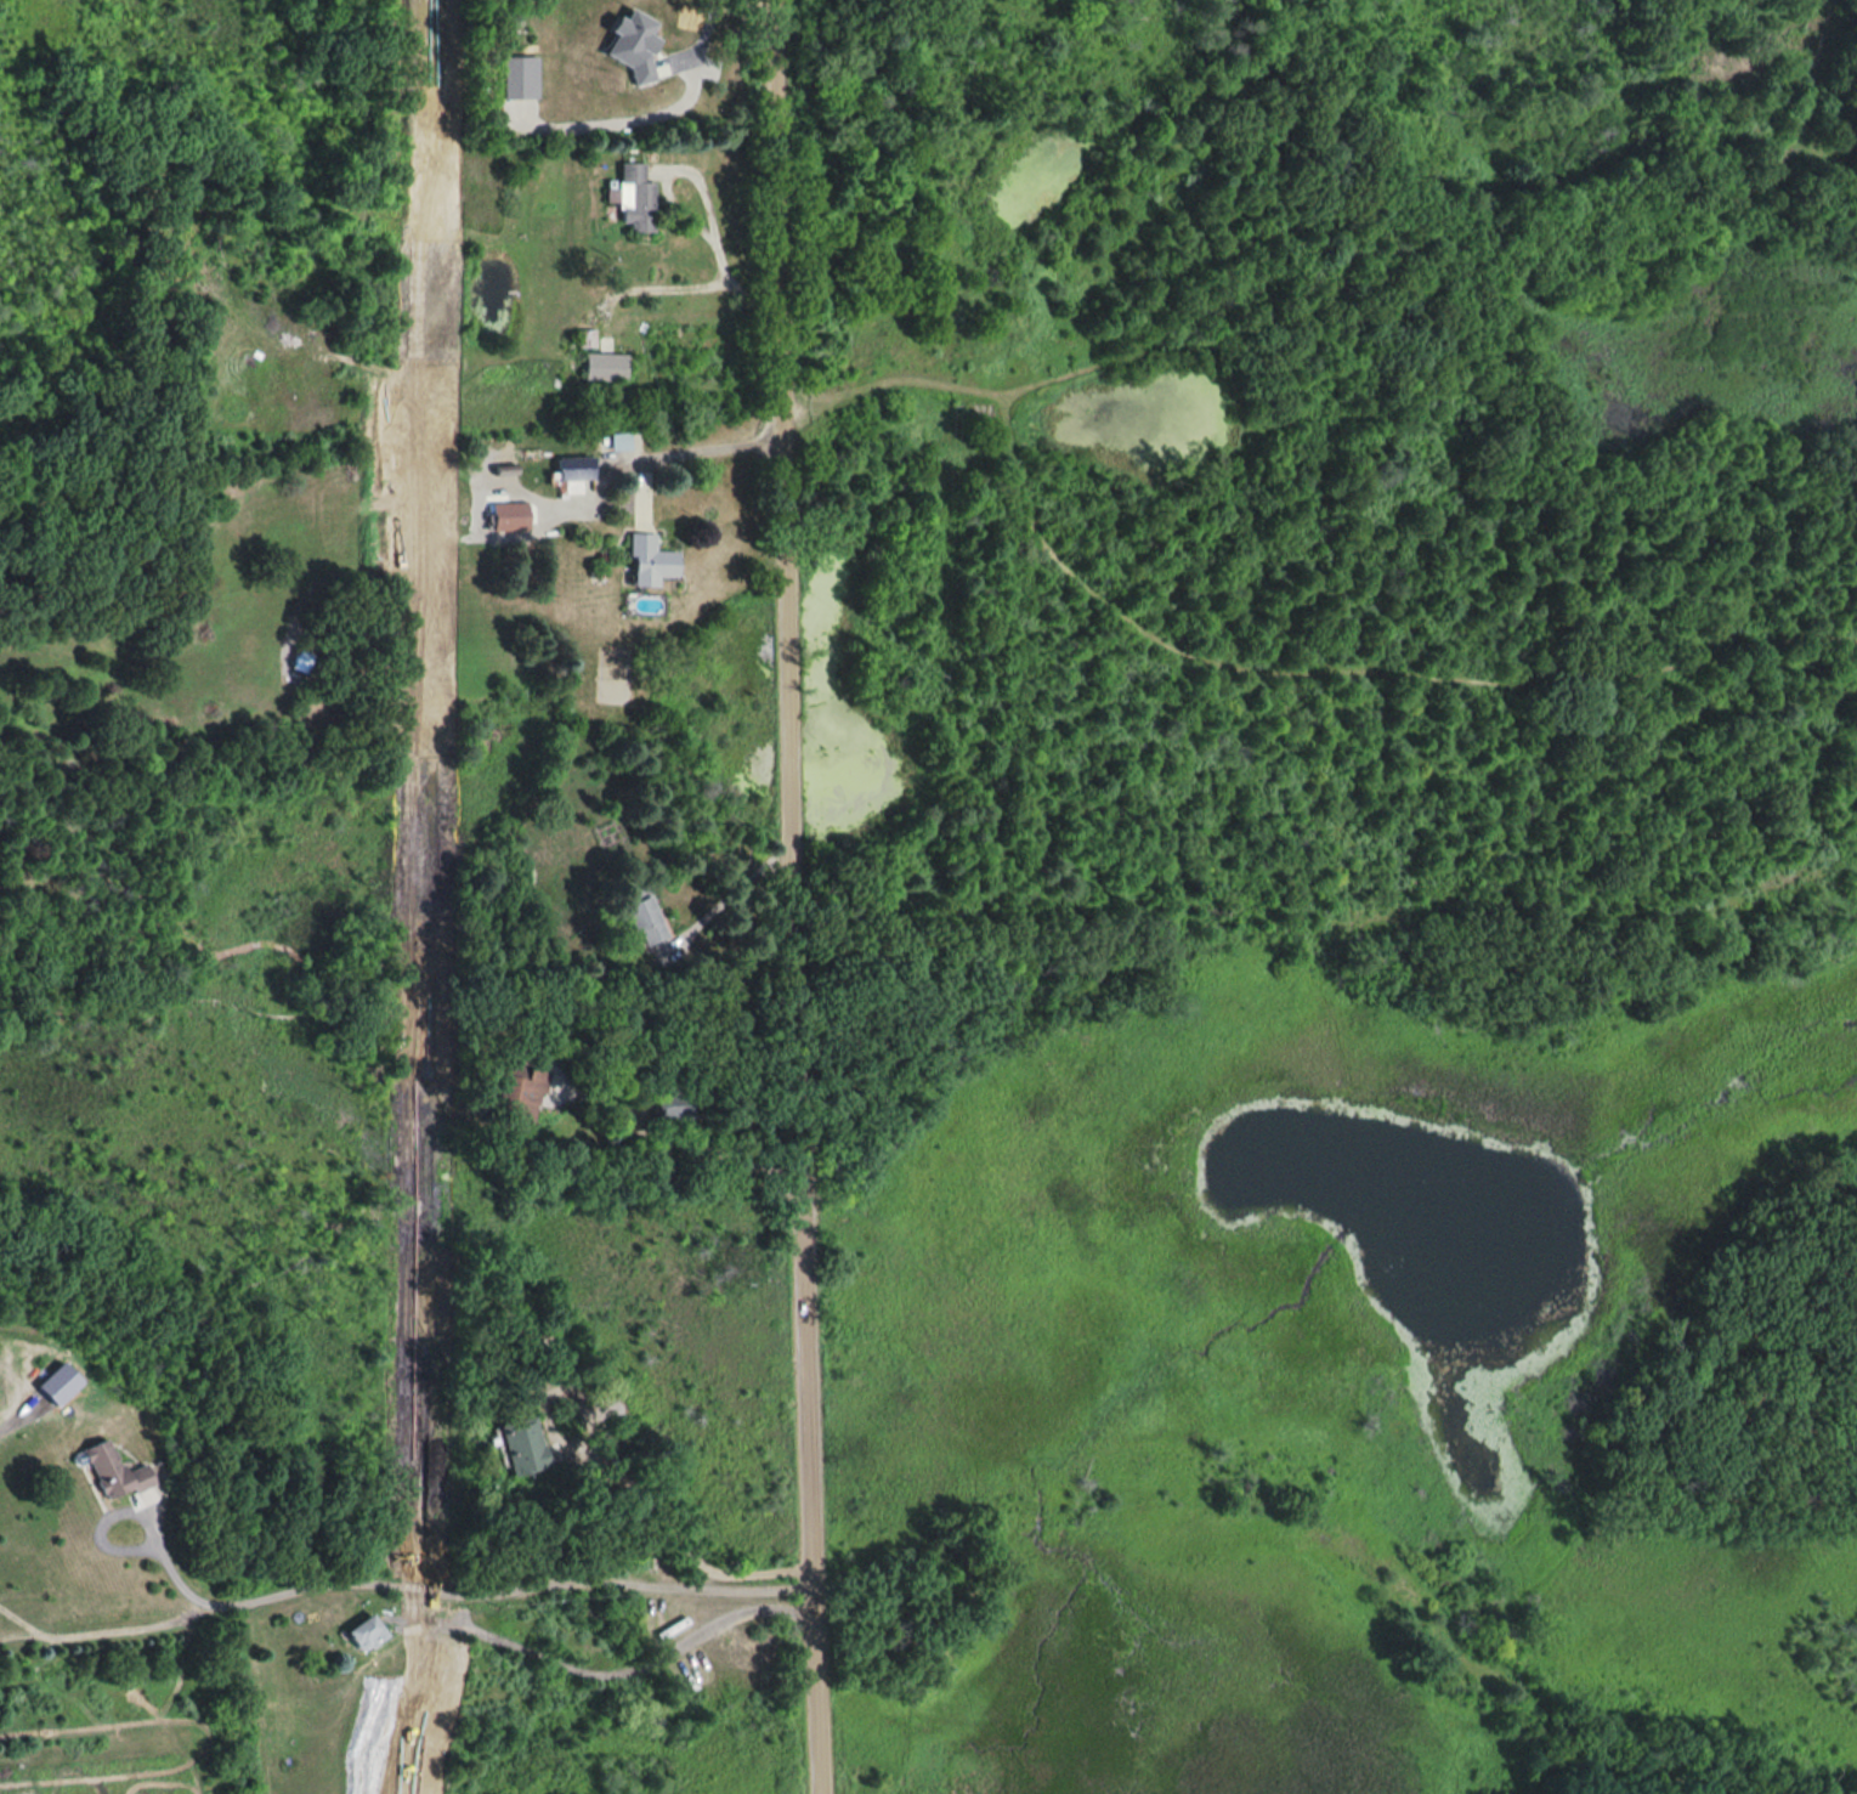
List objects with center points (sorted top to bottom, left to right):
road: (1827, 149)
building: (633, 198)
road: (685, 215)
road: (644, 281)
building: (604, 366)
road: (896, 381)
road: (1006, 401)
road: (686, 451)
building: (571, 466)
building: (505, 515)
building: (647, 556)
park: (1338, 890)
road: (731, 895)
road: (800, 896)
building: (642, 918)
building: (515, 1088)
road: (687, 1142)
building: (521, 1445)
building: (109, 1468)
road: (684, 1545)
road: (397, 1586)
building: (361, 1631)
road: (622, 1670)

